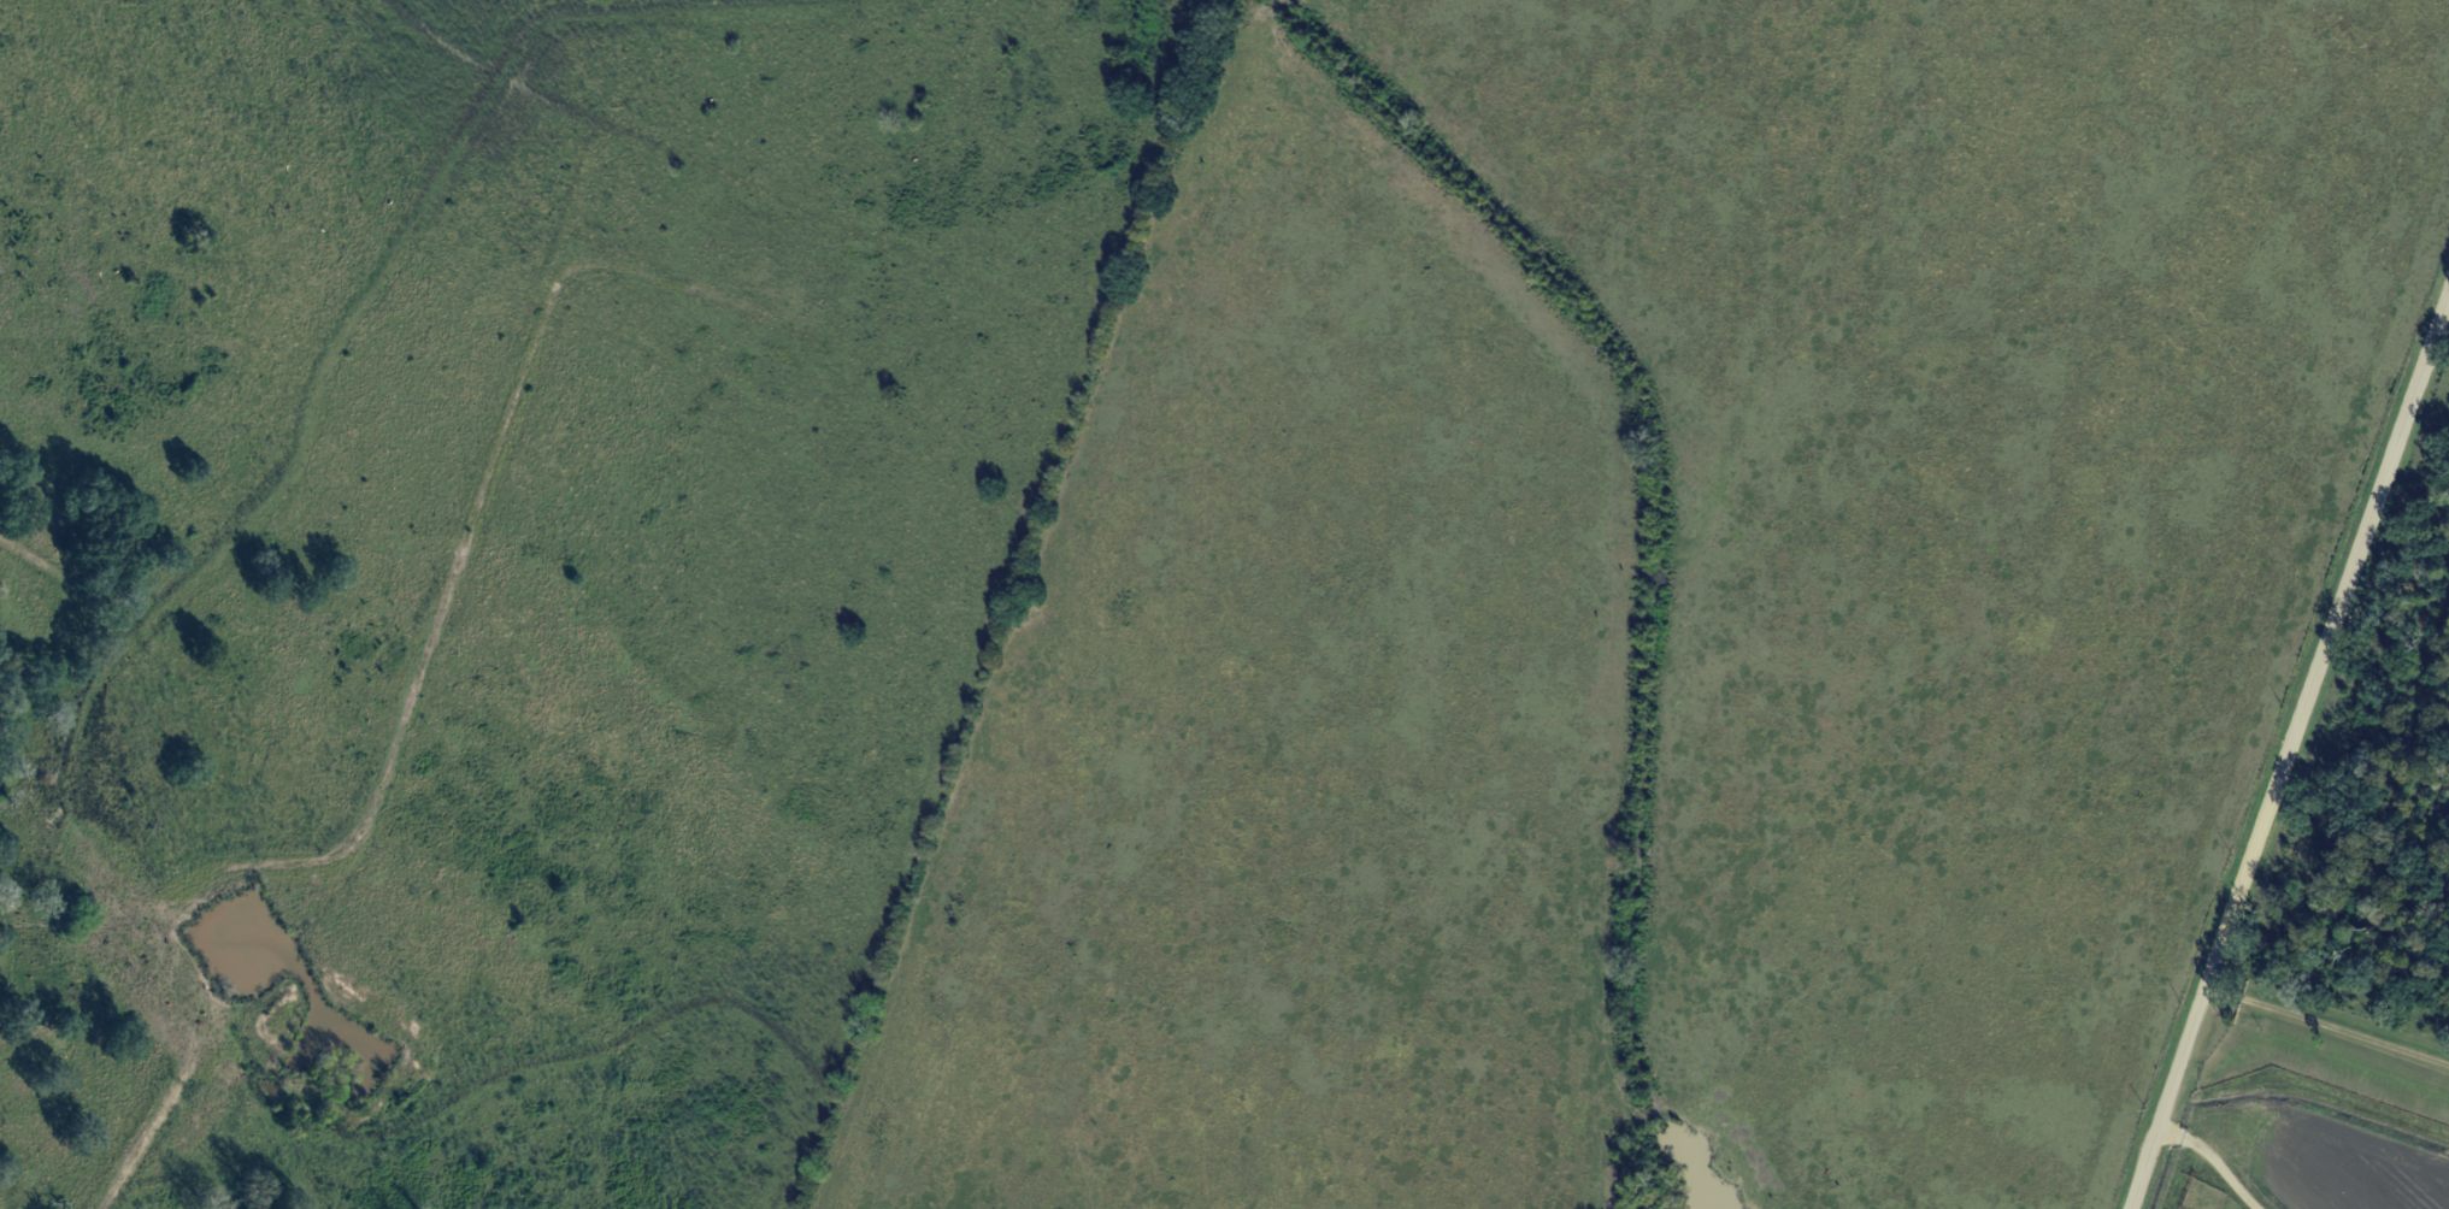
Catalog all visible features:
road: (2297, 774)
road: (2336, 1024)
road: (2215, 1168)

